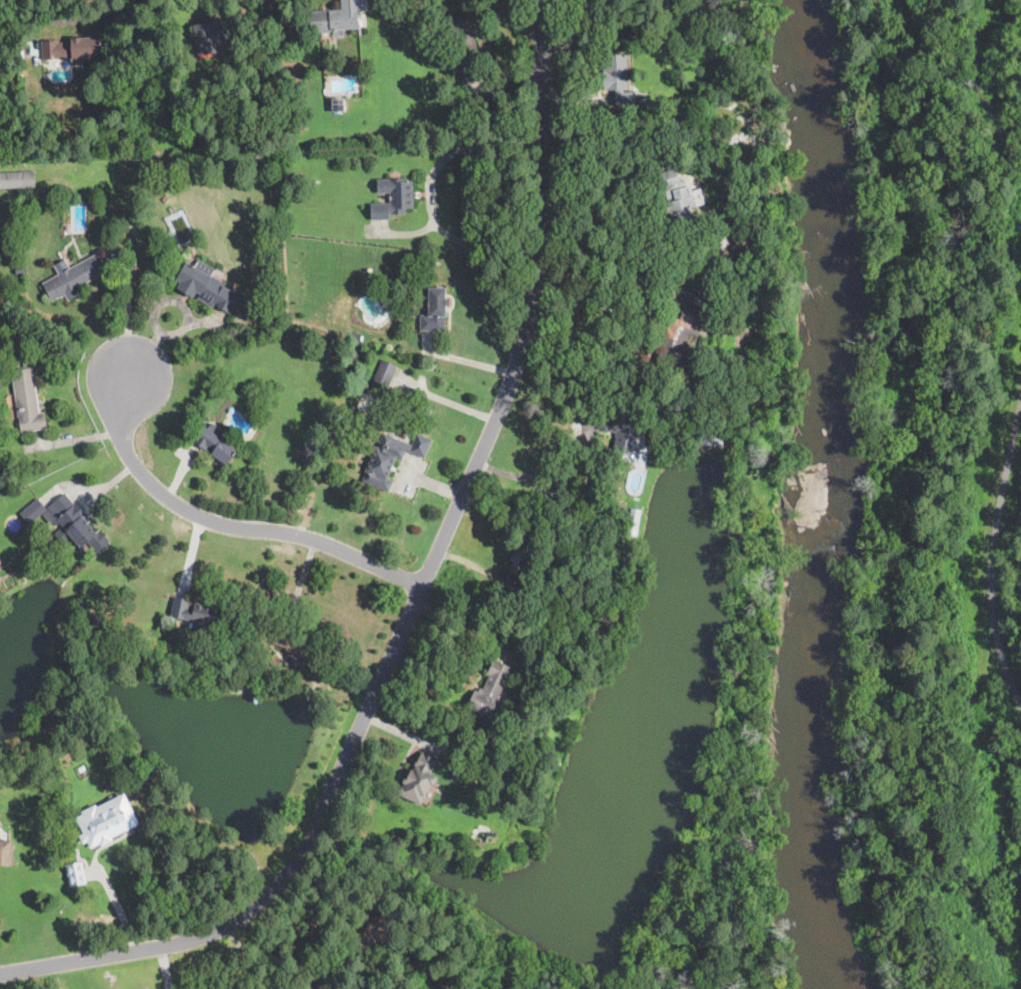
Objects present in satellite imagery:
road: (67, 18)
building: (333, 19)
building: (718, 25)
building: (216, 32)
building: (463, 42)
building: (70, 47)
building: (620, 77)
building: (338, 103)
building: (479, 112)
building: (72, 144)
building: (668, 159)
building: (260, 160)
building: (18, 178)
road: (431, 191)
road: (609, 193)
building: (165, 197)
building: (676, 197)
building: (393, 198)
building: (163, 237)
road: (135, 259)
building: (21, 271)
building: (71, 278)
building: (207, 287)
building: (435, 310)
road: (671, 310)
building: (682, 332)
building: (356, 337)
park: (939, 341)
building: (384, 375)
building: (27, 401)
building: (620, 431)
building: (711, 441)
building: (214, 444)
building: (392, 458)
building: (7, 472)
road: (540, 472)
river: (825, 500)
building: (34, 511)
building: (636, 522)
building: (75, 524)
road: (232, 527)
road: (993, 549)
building: (523, 552)
building: (531, 591)
road: (422, 597)
building: (196, 613)
building: (521, 640)
building: (300, 644)
building: (203, 650)
building: (517, 665)
building: (491, 689)
building: (419, 777)
building: (106, 819)
park: (943, 829)
building: (5, 852)
building: (76, 872)
road: (117, 906)
building: (380, 931)
road: (248, 957)
road: (165, 967)
building: (449, 983)

